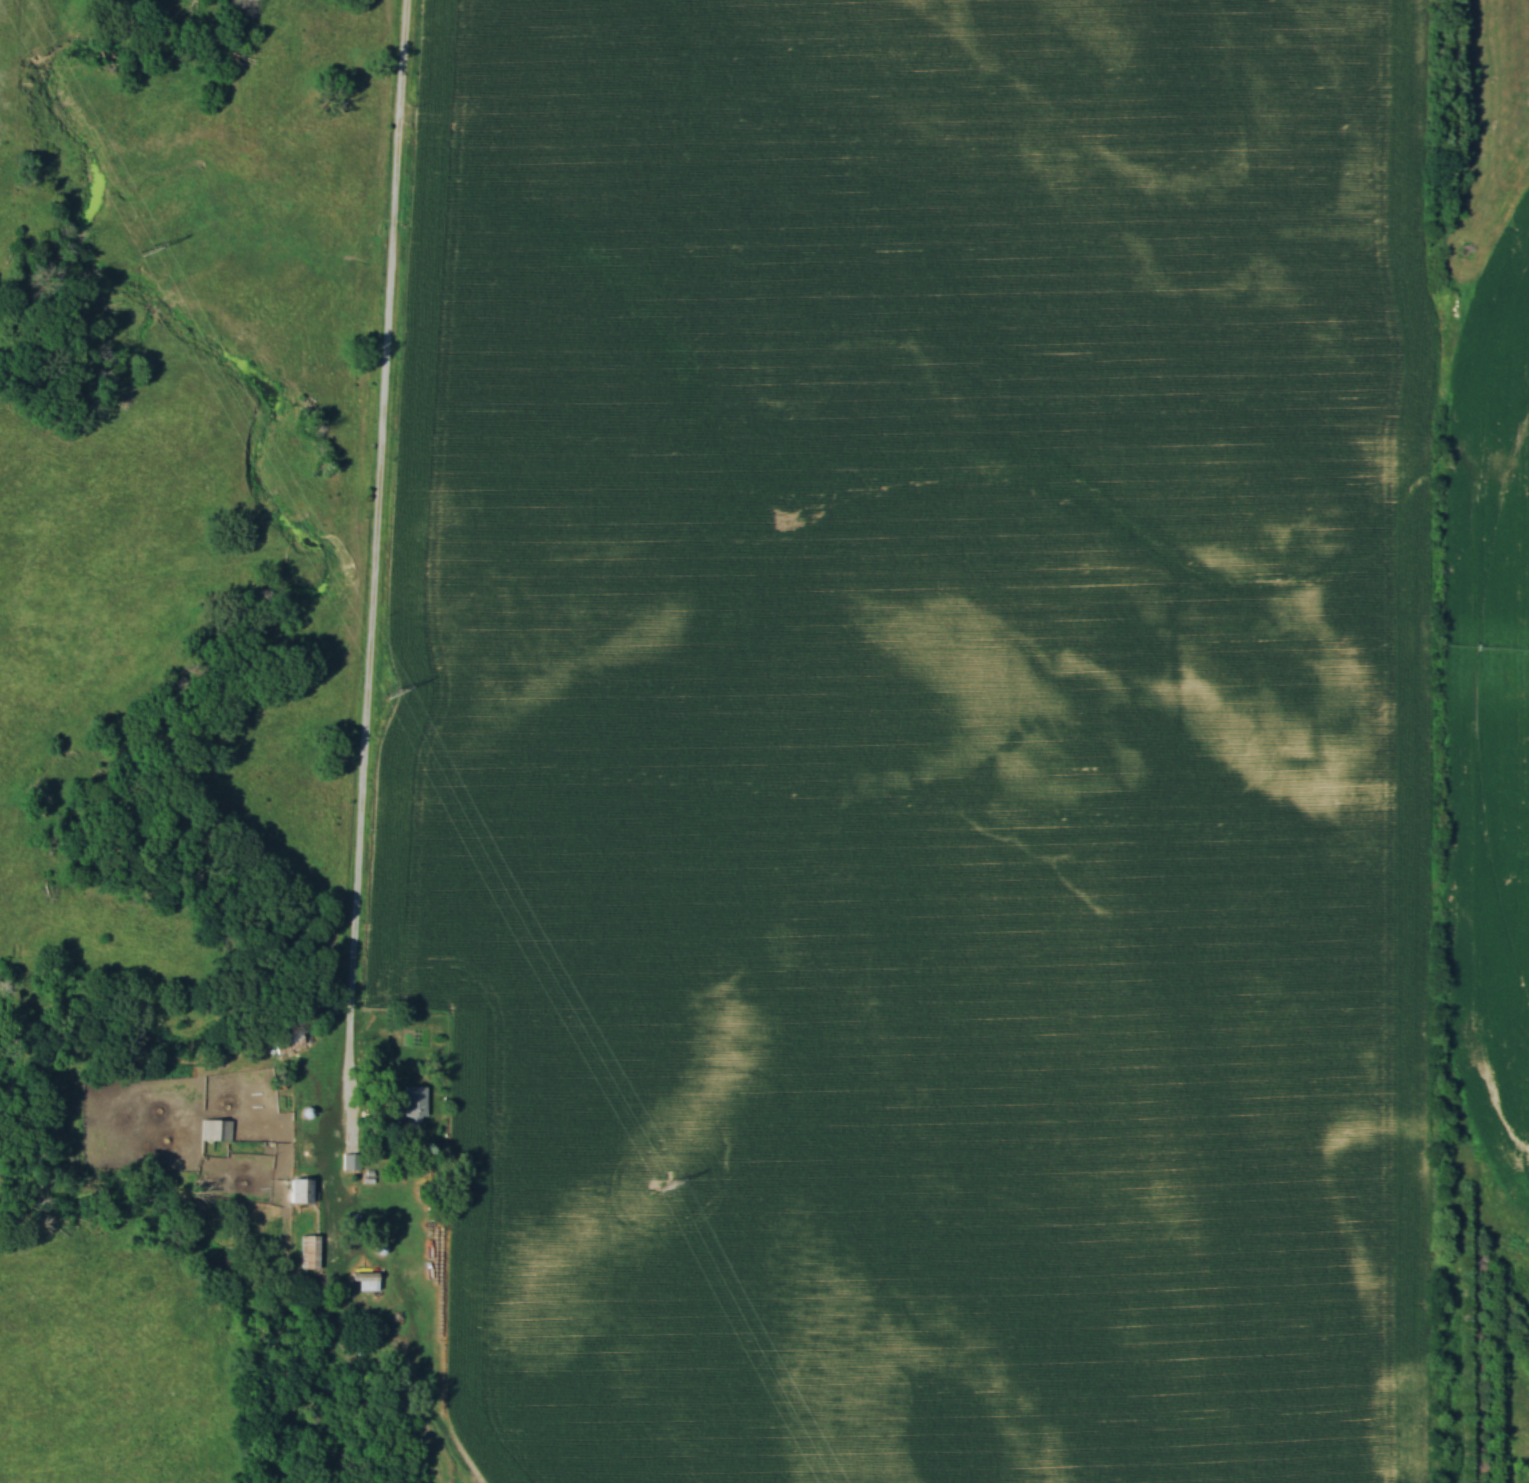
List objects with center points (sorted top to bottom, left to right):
power tower: (142, 249)
road: (369, 560)
river: (331, 577)
power tower: (387, 692)
building: (330, 992)
building: (284, 1044)
building: (409, 1105)
building: (211, 1130)
building: (346, 1162)
power tower: (660, 1189)
building: (295, 1191)
building: (303, 1252)
river: (228, 1271)
building: (355, 1341)

